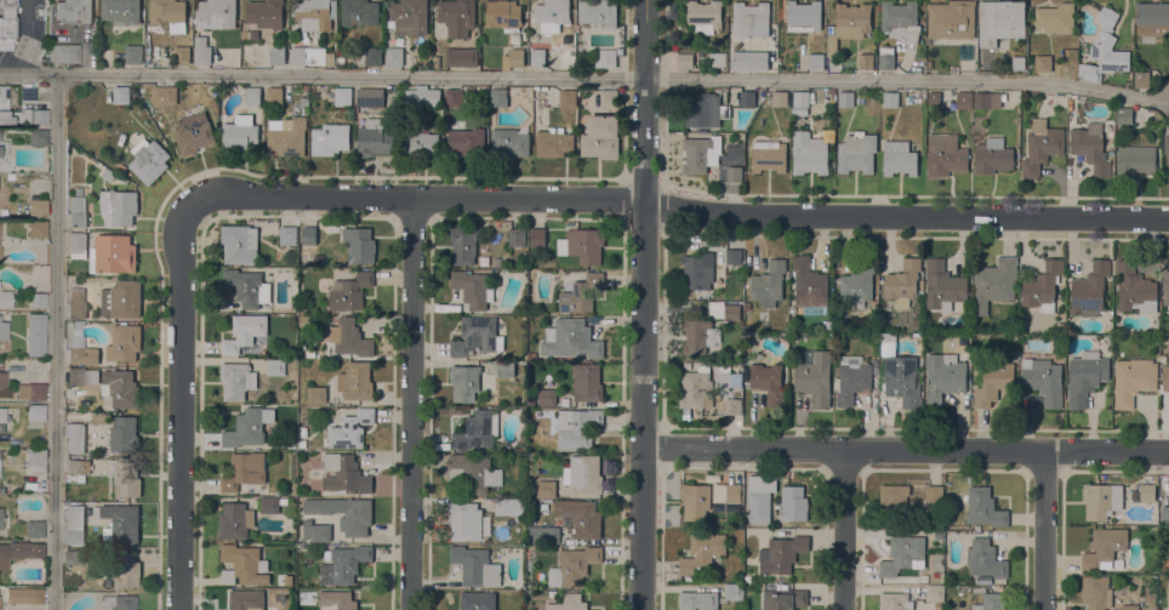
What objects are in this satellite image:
building: (73, 11)
building: (121, 11)
building: (315, 11)
building: (359, 12)
building: (169, 13)
building: (216, 13)
building: (266, 13)
building: (598, 13)
building: (503, 15)
building: (552, 15)
building: (409, 16)
building: (457, 16)
building: (705, 16)
building: (803, 16)
building: (1055, 17)
building: (951, 18)
building: (751, 19)
building: (901, 21)
building: (1000, 21)
building: (1152, 21)
building: (849, 23)
building: (6, 24)
gas station: (6, 24)
building: (1104, 50)
building: (63, 53)
building: (133, 53)
building: (203, 53)
building: (182, 55)
building: (278, 55)
building: (310, 56)
building: (367, 56)
building: (394, 56)
building: (462, 56)
building: (515, 57)
building: (537, 57)
building: (815, 57)
building: (886, 57)
building: (608, 58)
building: (718, 58)
building: (749, 59)
building: (684, 61)
building: (865, 61)
building: (435, 62)
building: (1019, 62)
building: (1043, 63)
building: (953, 69)
road: (584, 78)
building: (1141, 79)
building: (831, 91)
building: (27, 95)
building: (121, 95)
building: (165, 95)
building: (253, 95)
building: (274, 96)
building: (343, 96)
building: (370, 97)
building: (422, 97)
building: (454, 97)
building: (497, 97)
building: (566, 98)
building: (608, 98)
building: (747, 98)
building: (780, 98)
building: (800, 98)
building: (845, 98)
building: (890, 98)
building: (964, 99)
building: (987, 99)
building: (303, 101)
building: (4, 107)
building: (703, 109)
building: (32, 115)
building: (1124, 116)
building: (239, 131)
building: (193, 132)
building: (286, 136)
building: (36, 137)
building: (373, 137)
building: (600, 137)
building: (329, 138)
building: (466, 138)
building: (1165, 139)
building: (418, 142)
building: (509, 142)
building: (553, 143)
building: (1042, 146)
building: (1090, 147)
building: (2, 148)
building: (856, 152)
building: (701, 153)
building: (809, 153)
building: (945, 154)
building: (768, 155)
building: (992, 155)
building: (899, 158)
building: (148, 159)
building: (1135, 160)
building: (120, 167)
building: (108, 173)
building: (734, 173)
building: (121, 178)
building: (118, 206)
building: (36, 209)
building: (76, 209)
road: (686, 210)
building: (36, 229)
building: (287, 234)
building: (308, 236)
building: (517, 236)
building: (537, 236)
building: (239, 244)
building: (359, 244)
building: (464, 244)
building: (586, 244)
building: (76, 245)
building: (112, 253)
building: (732, 256)
building: (317, 258)
building: (496, 261)
building: (697, 270)
building: (903, 281)
building: (769, 283)
building: (808, 283)
building: (993, 283)
building: (1165, 283)
building: (859, 284)
building: (920, 284)
building: (942, 285)
building: (1042, 286)
building: (247, 287)
building: (1135, 287)
building: (473, 289)
building: (1089, 290)
building: (349, 291)
building: (578, 292)
building: (5, 300)
building: (36, 300)
building: (121, 300)
building: (76, 304)
road: (641, 304)
building: (732, 309)
building: (304, 319)
building: (76, 324)
building: (2, 330)
building: (244, 332)
building: (35, 335)
building: (698, 335)
building: (477, 336)
building: (350, 337)
building: (571, 338)
road: (55, 342)
building: (124, 342)
building: (80, 350)
building: (531, 355)
building: (293, 363)
building: (275, 367)
building: (506, 369)
building: (81, 376)
building: (1085, 376)
building: (815, 377)
building: (943, 377)
building: (1165, 377)
building: (851, 378)
building: (2, 380)
building: (236, 380)
building: (902, 380)
building: (1043, 380)
building: (1133, 380)
building: (355, 381)
building: (464, 382)
building: (587, 382)
building: (768, 382)
building: (993, 383)
building: (120, 387)
building: (696, 387)
building: (30, 390)
road: (182, 395)
building: (317, 395)
building: (547, 397)
building: (530, 399)
road: (410, 404)
building: (731, 405)
building: (35, 412)
building: (1, 415)
building: (247, 427)
building: (577, 427)
building: (350, 429)
building: (477, 429)
building: (302, 432)
building: (124, 434)
building: (75, 437)
building: (302, 443)
road: (905, 449)
building: (34, 457)
building: (75, 467)
building: (244, 471)
building: (473, 473)
building: (583, 473)
building: (344, 474)
building: (126, 480)
building: (546, 489)
building: (1148, 489)
building: (726, 492)
building: (934, 494)
building: (753, 495)
building: (1101, 498)
building: (283, 500)
building: (695, 500)
building: (894, 502)
building: (793, 503)
building: (268, 504)
building: (508, 506)
building: (985, 507)
building: (1164, 513)
building: (580, 517)
building: (0, 518)
building: (234, 520)
building: (355, 520)
building: (464, 520)
building: (120, 523)
building: (74, 524)
building: (486, 525)
building: (34, 529)
road: (844, 529)
building: (317, 530)
road: (1045, 530)
building: (543, 534)
building: (939, 534)
building: (1104, 547)
building: (19, 552)
building: (702, 553)
building: (530, 554)
building: (781, 554)
building: (903, 554)
building: (74, 555)
building: (986, 559)
building: (244, 564)
building: (342, 564)
building: (1165, 564)
building: (475, 565)
building: (572, 565)
building: (122, 570)
building: (911, 580)
building: (731, 592)
building: (1096, 592)
building: (11, 594)
building: (935, 594)
building: (33, 595)
building: (785, 598)
building: (246, 599)
building: (336, 600)
building: (478, 600)
building: (698, 600)
building: (895, 600)
building: (572, 602)
building: (991, 602)
building: (118, 603)
building: (1129, 606)

